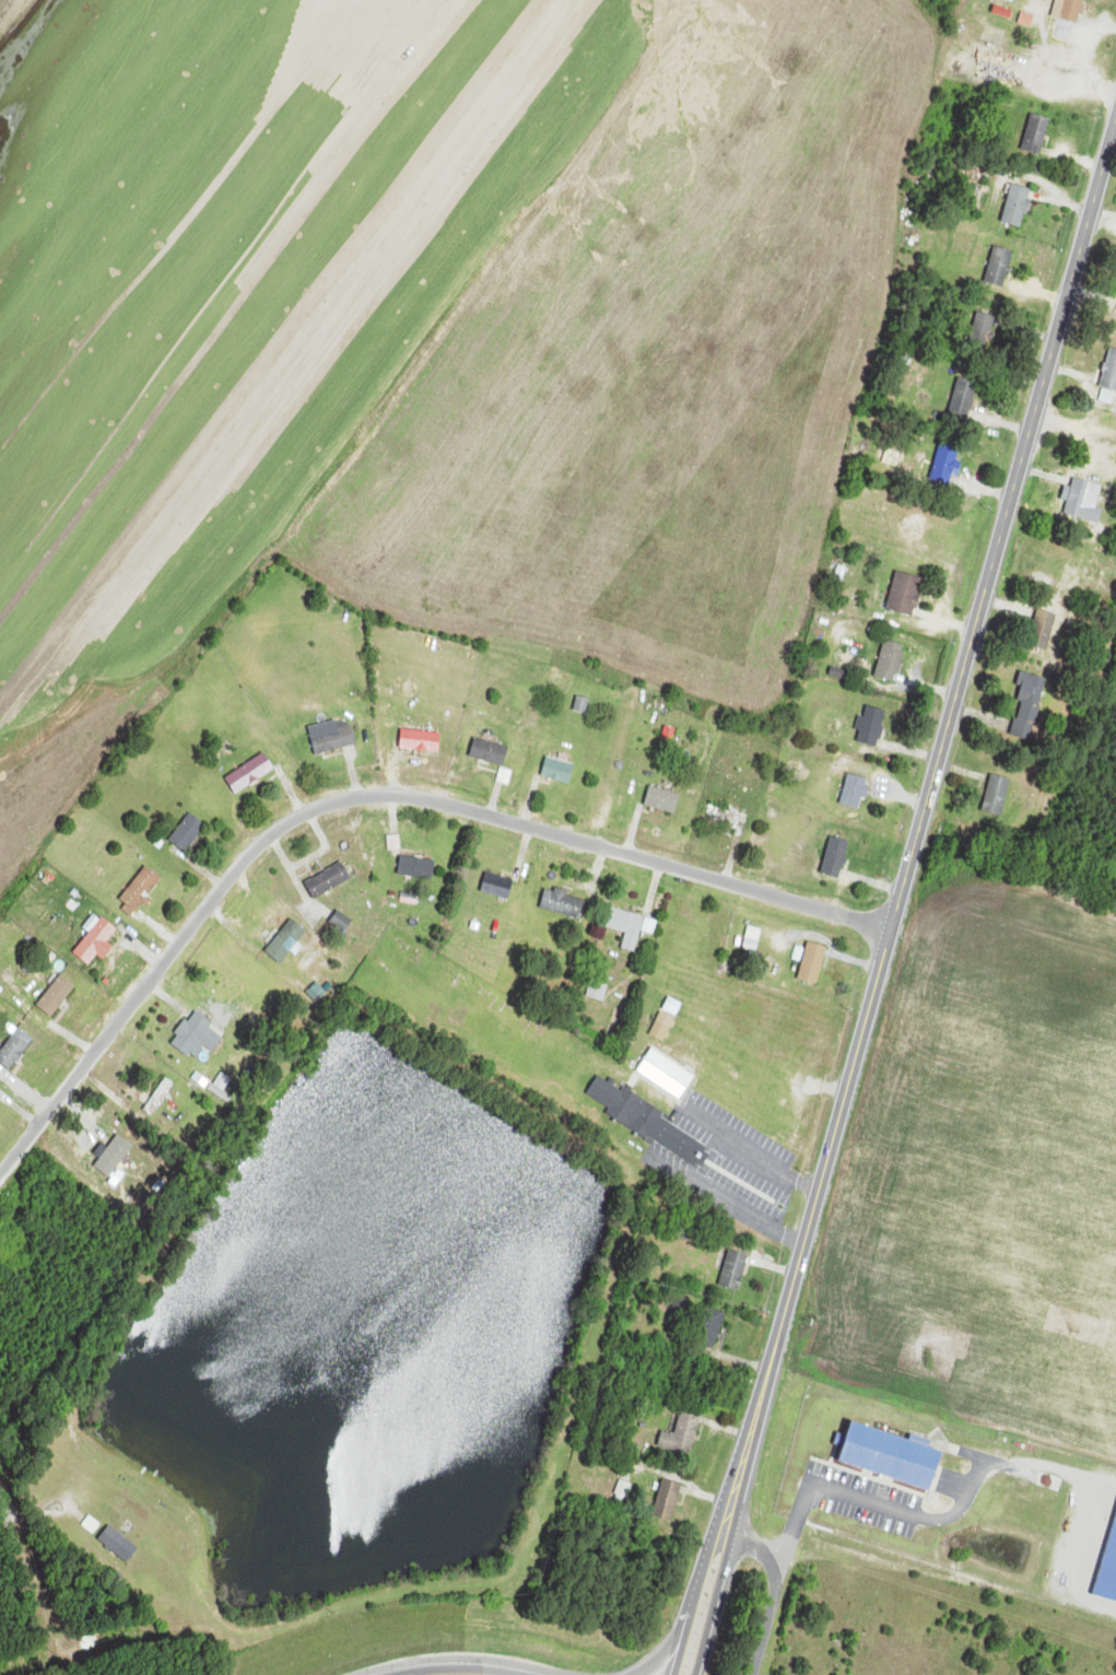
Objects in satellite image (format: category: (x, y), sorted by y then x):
building: (1072, 10)
road: (1082, 65)
building: (1037, 134)
road: (1079, 159)
building: (959, 166)
road: (1043, 185)
road: (1062, 204)
building: (1018, 207)
building: (1000, 268)
road: (1043, 284)
building: (1111, 373)
road: (1003, 420)
building: (948, 459)
road: (832, 475)
road: (987, 489)
building: (1084, 500)
building: (906, 594)
road: (949, 623)
building: (1043, 630)
building: (891, 660)
road: (936, 687)
building: (1026, 702)
building: (871, 725)
building: (332, 736)
building: (420, 740)
road: (914, 749)
building: (490, 751)
building: (559, 770)
road: (390, 772)
building: (250, 773)
road: (355, 773)
road: (290, 790)
building: (855, 790)
road: (365, 795)
building: (997, 795)
road: (903, 797)
building: (662, 799)
road: (494, 800)
road: (527, 803)
building: (725, 817)
building: (188, 831)
road: (633, 834)
building: (836, 857)
road: (201, 867)
building: (418, 867)
road: (876, 879)
building: (329, 880)
building: (497, 886)
building: (141, 889)
road: (900, 898)
building: (564, 903)
building: (341, 922)
road: (162, 923)
building: (629, 927)
building: (753, 938)
building: (96, 941)
building: (286, 941)
road: (144, 951)
building: (813, 962)
building: (598, 989)
building: (57, 995)
building: (193, 1033)
building: (15, 1047)
building: (163, 1088)
building: (649, 1121)
building: (736, 1269)
building: (709, 1327)
building: (684, 1433)
building: (894, 1455)
building: (669, 1500)
road: (869, 1501)
building: (118, 1544)
road: (775, 1591)
road: (467, 1660)

